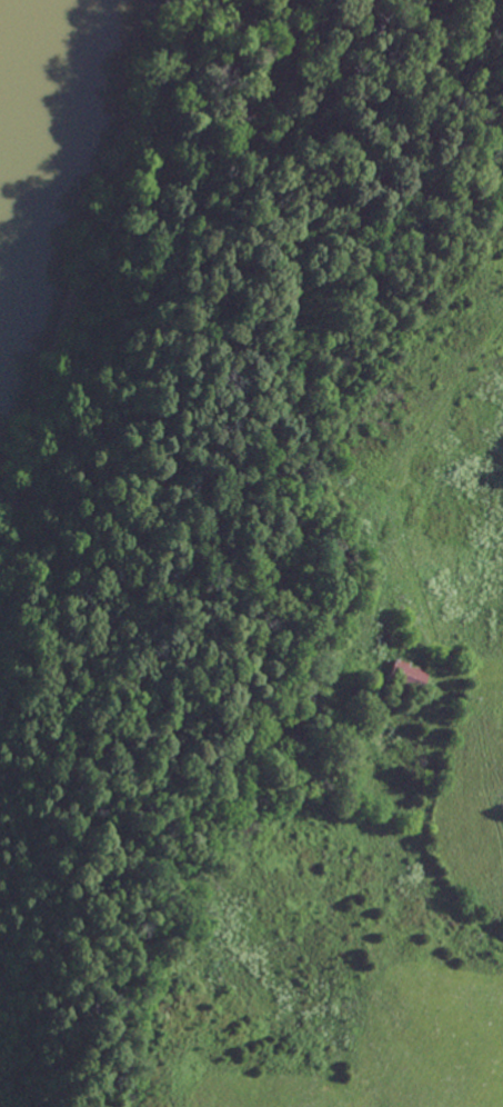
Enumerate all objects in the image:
river: (22, 78)

